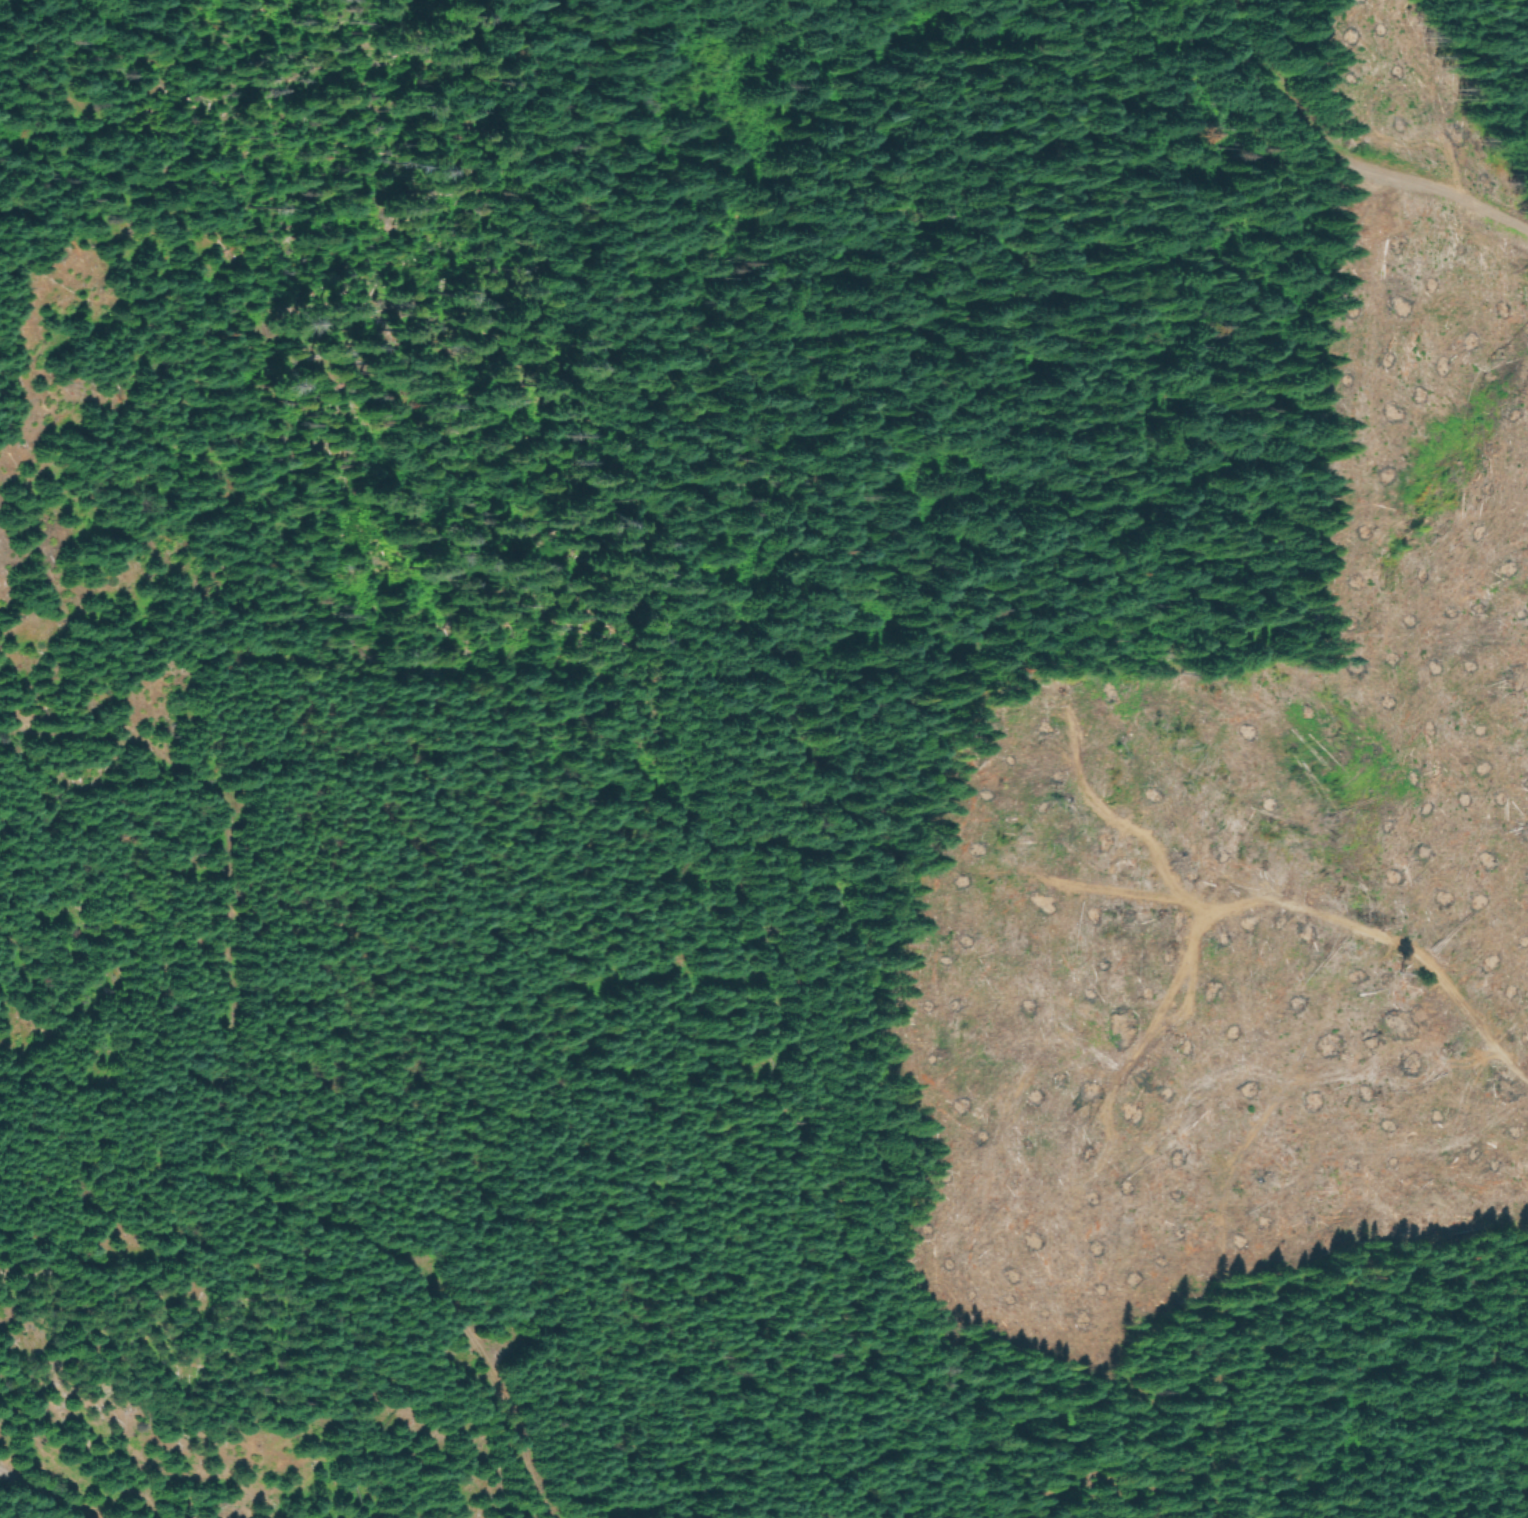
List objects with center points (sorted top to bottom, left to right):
road: (1345, 148)
road: (289, 1212)
road: (40, 1495)

